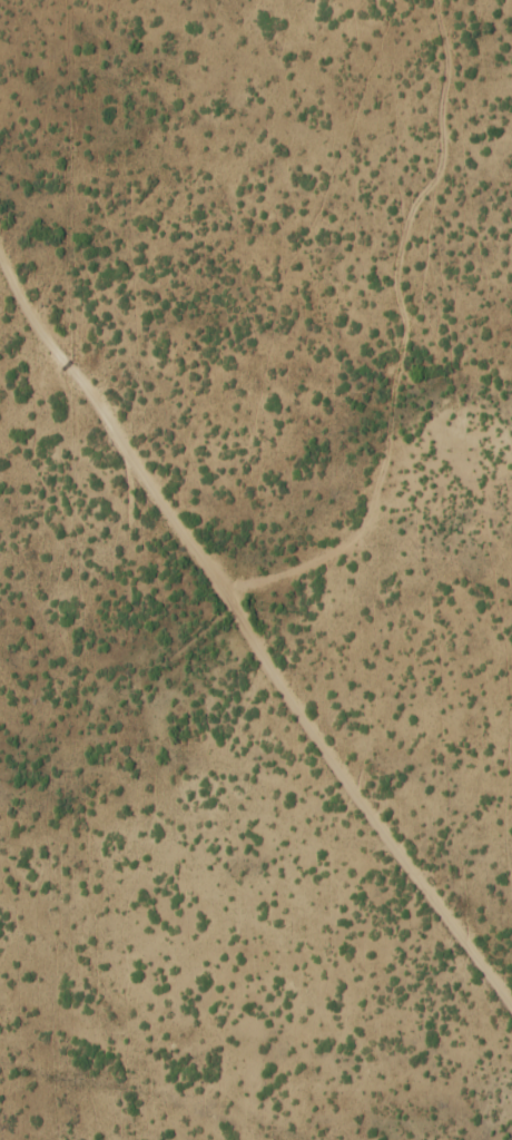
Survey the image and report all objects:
road: (252, 628)

